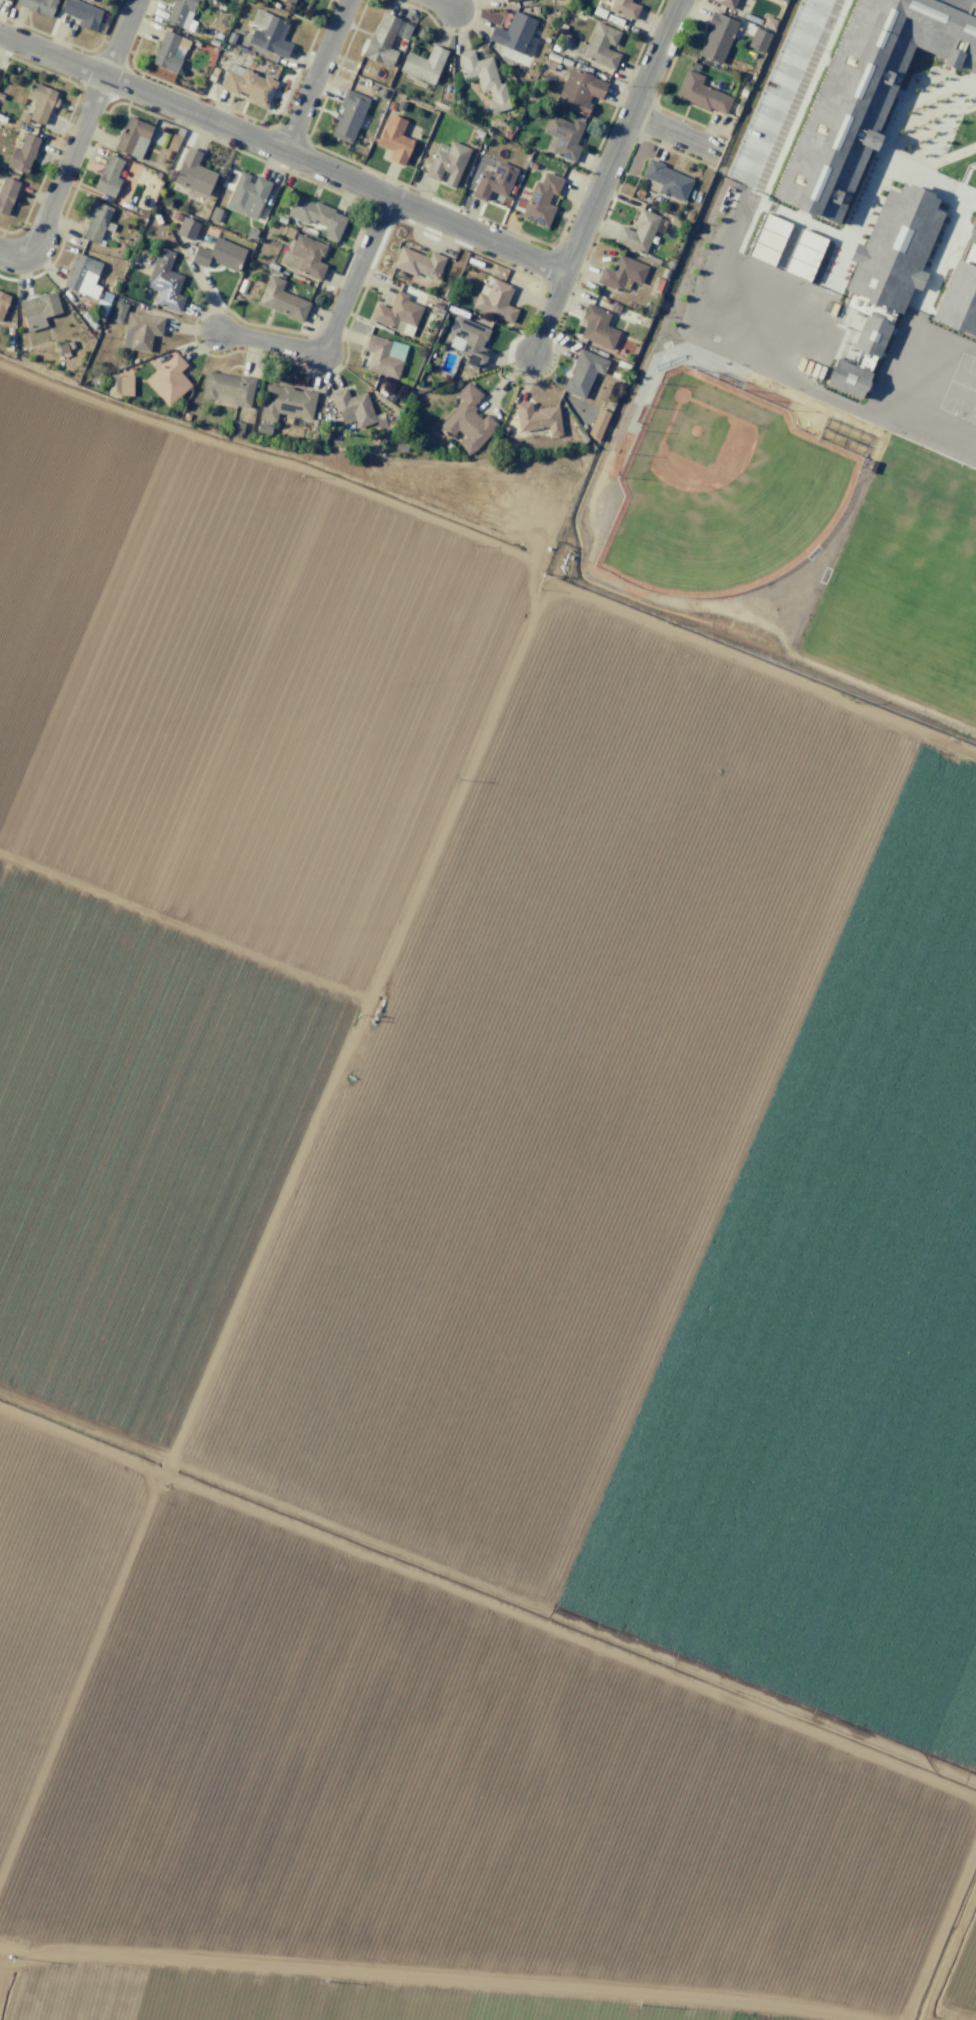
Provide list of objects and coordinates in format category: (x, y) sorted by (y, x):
building: (507, 0)
building: (780, 0)
building: (783, 0)
building: (288, 2)
building: (726, 3)
road: (443, 4)
building: (38, 6)
building: (625, 7)
building: (82, 13)
building: (182, 13)
building: (768, 22)
building: (268, 34)
building: (514, 34)
building: (717, 38)
building: (758, 39)
building: (382, 41)
building: (599, 45)
building: (166, 53)
building: (423, 64)
building: (695, 67)
road: (315, 75)
building: (485, 80)
building: (248, 85)
building: (578, 90)
building: (868, 92)
building: (701, 93)
building: (38, 102)
building: (348, 116)
road: (83, 122)
road: (673, 131)
road: (620, 134)
building: (133, 137)
building: (563, 138)
building: (394, 139)
road: (282, 150)
building: (23, 152)
building: (446, 162)
building: (193, 174)
building: (108, 176)
building: (666, 180)
building: (494, 181)
building: (7, 194)
building: (247, 195)
building: (540, 200)
building: (214, 214)
building: (175, 216)
building: (317, 216)
building: (95, 221)
building: (187, 228)
building: (638, 231)
building: (251, 232)
building: (767, 239)
building: (970, 246)
road: (16, 249)
building: (219, 254)
building: (302, 255)
building: (804, 255)
building: (418, 263)
building: (621, 273)
building: (82, 275)
building: (887, 276)
building: (165, 282)
building: (242, 286)
building: (106, 297)
building: (282, 300)
building: (959, 300)
building: (496, 301)
building: (3, 302)
building: (100, 307)
building: (38, 310)
building: (117, 311)
building: (396, 312)
road: (547, 312)
road: (334, 323)
building: (597, 327)
building: (140, 331)
building: (468, 340)
building: (70, 344)
building: (62, 349)
building: (380, 356)
building: (583, 372)
building: (168, 379)
building: (119, 385)
building: (227, 388)
building: (286, 402)
building: (351, 407)
building: (538, 418)
building: (468, 420)
building: (597, 423)
building: (237, 426)
building: (263, 429)
building: (383, 435)
building: (400, 445)
crop: (465, 1278)

